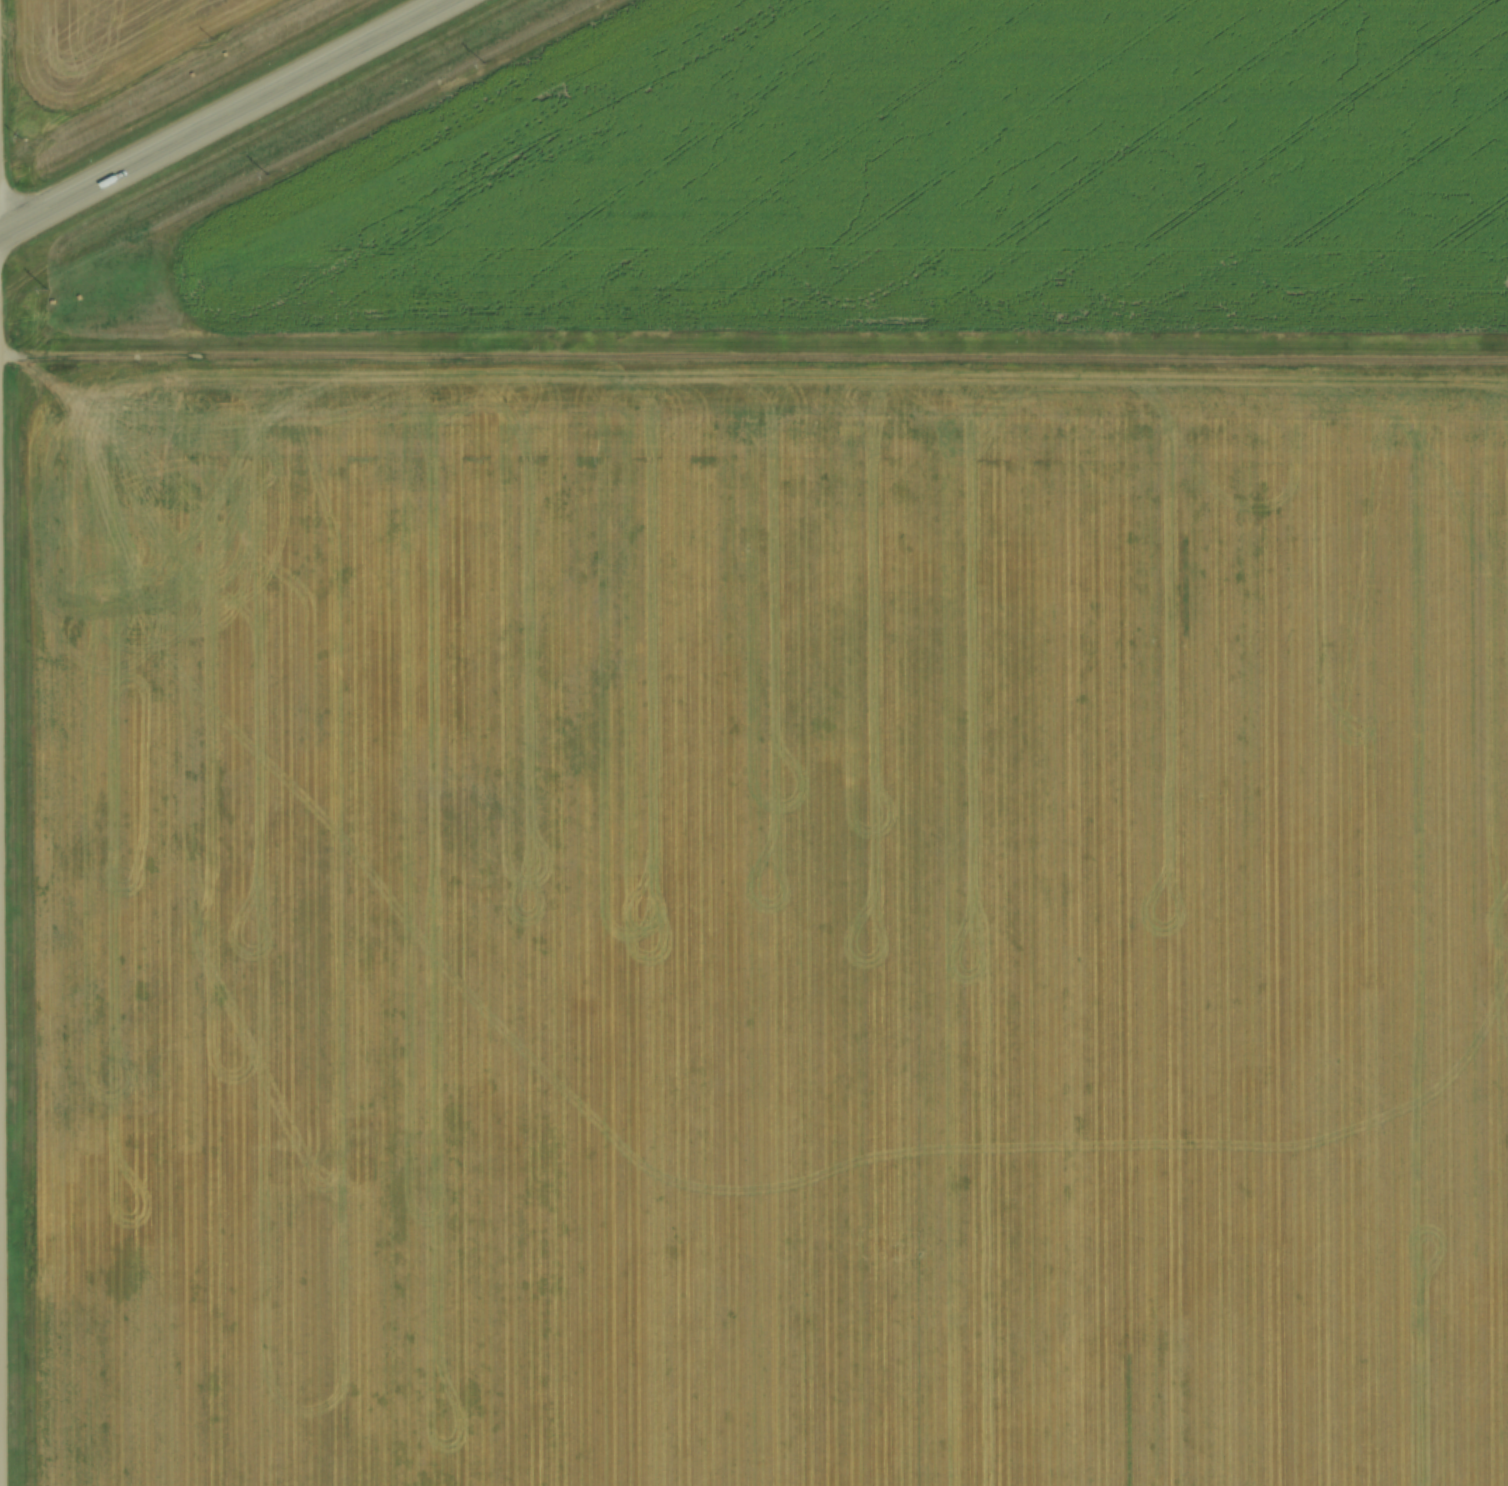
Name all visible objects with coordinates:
road: (226, 118)
road: (754, 357)

